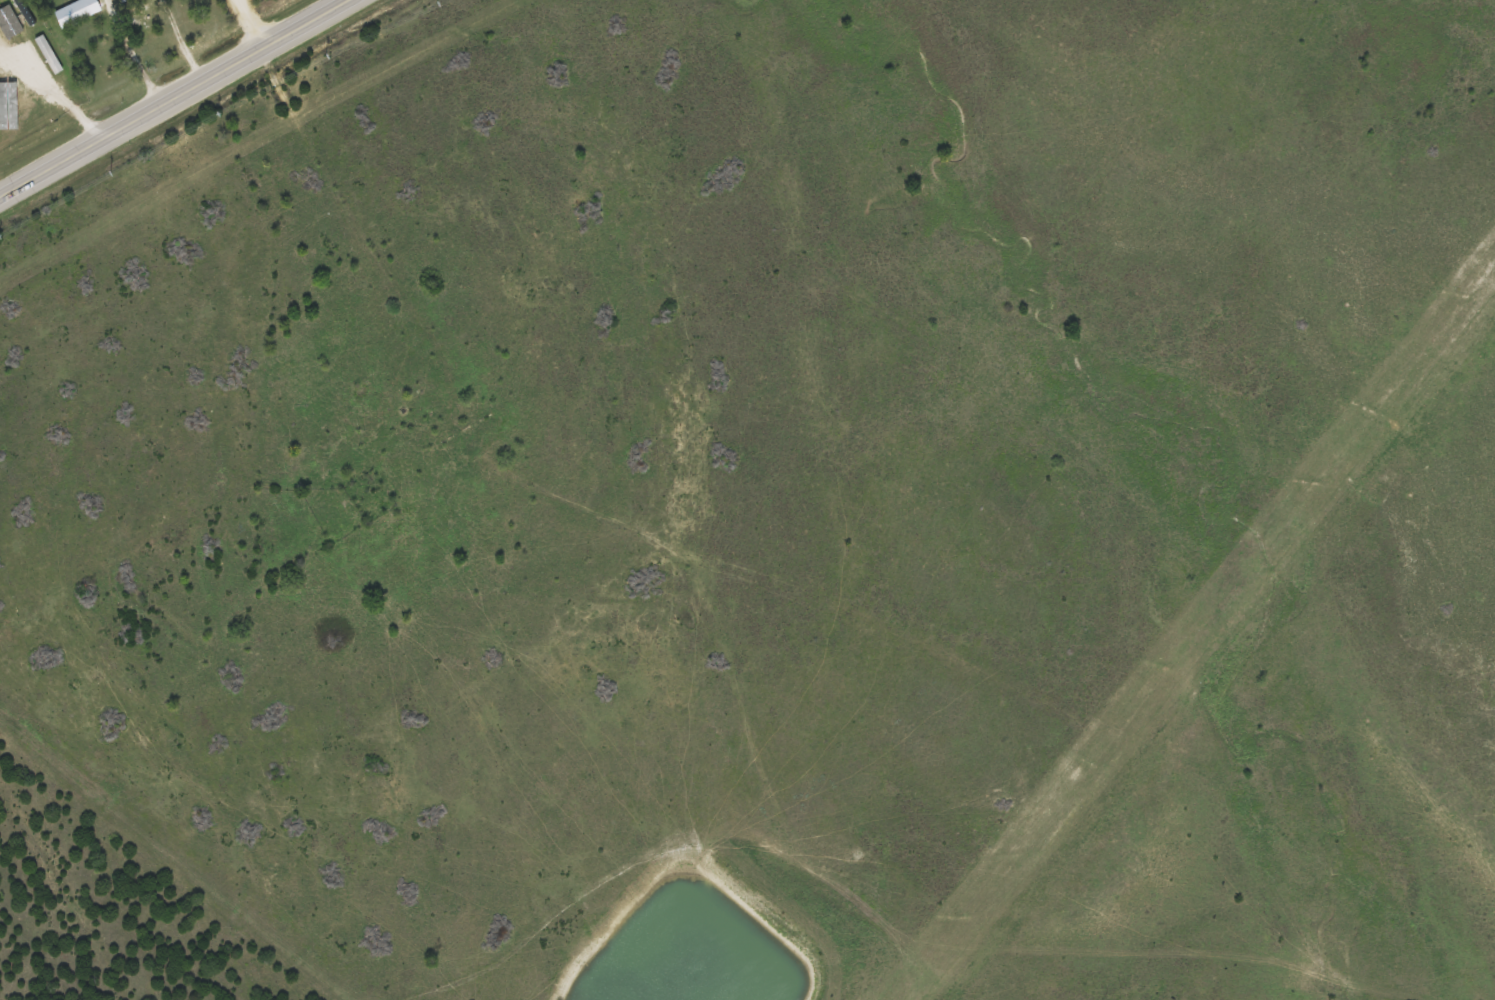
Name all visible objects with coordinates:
building: (77, 10)
building: (25, 14)
road: (251, 25)
building: (9, 26)
road: (178, 43)
road: (128, 54)
building: (59, 70)
building: (6, 89)
road: (52, 94)
road: (177, 97)
building: (17, 112)
road: (548, 919)

